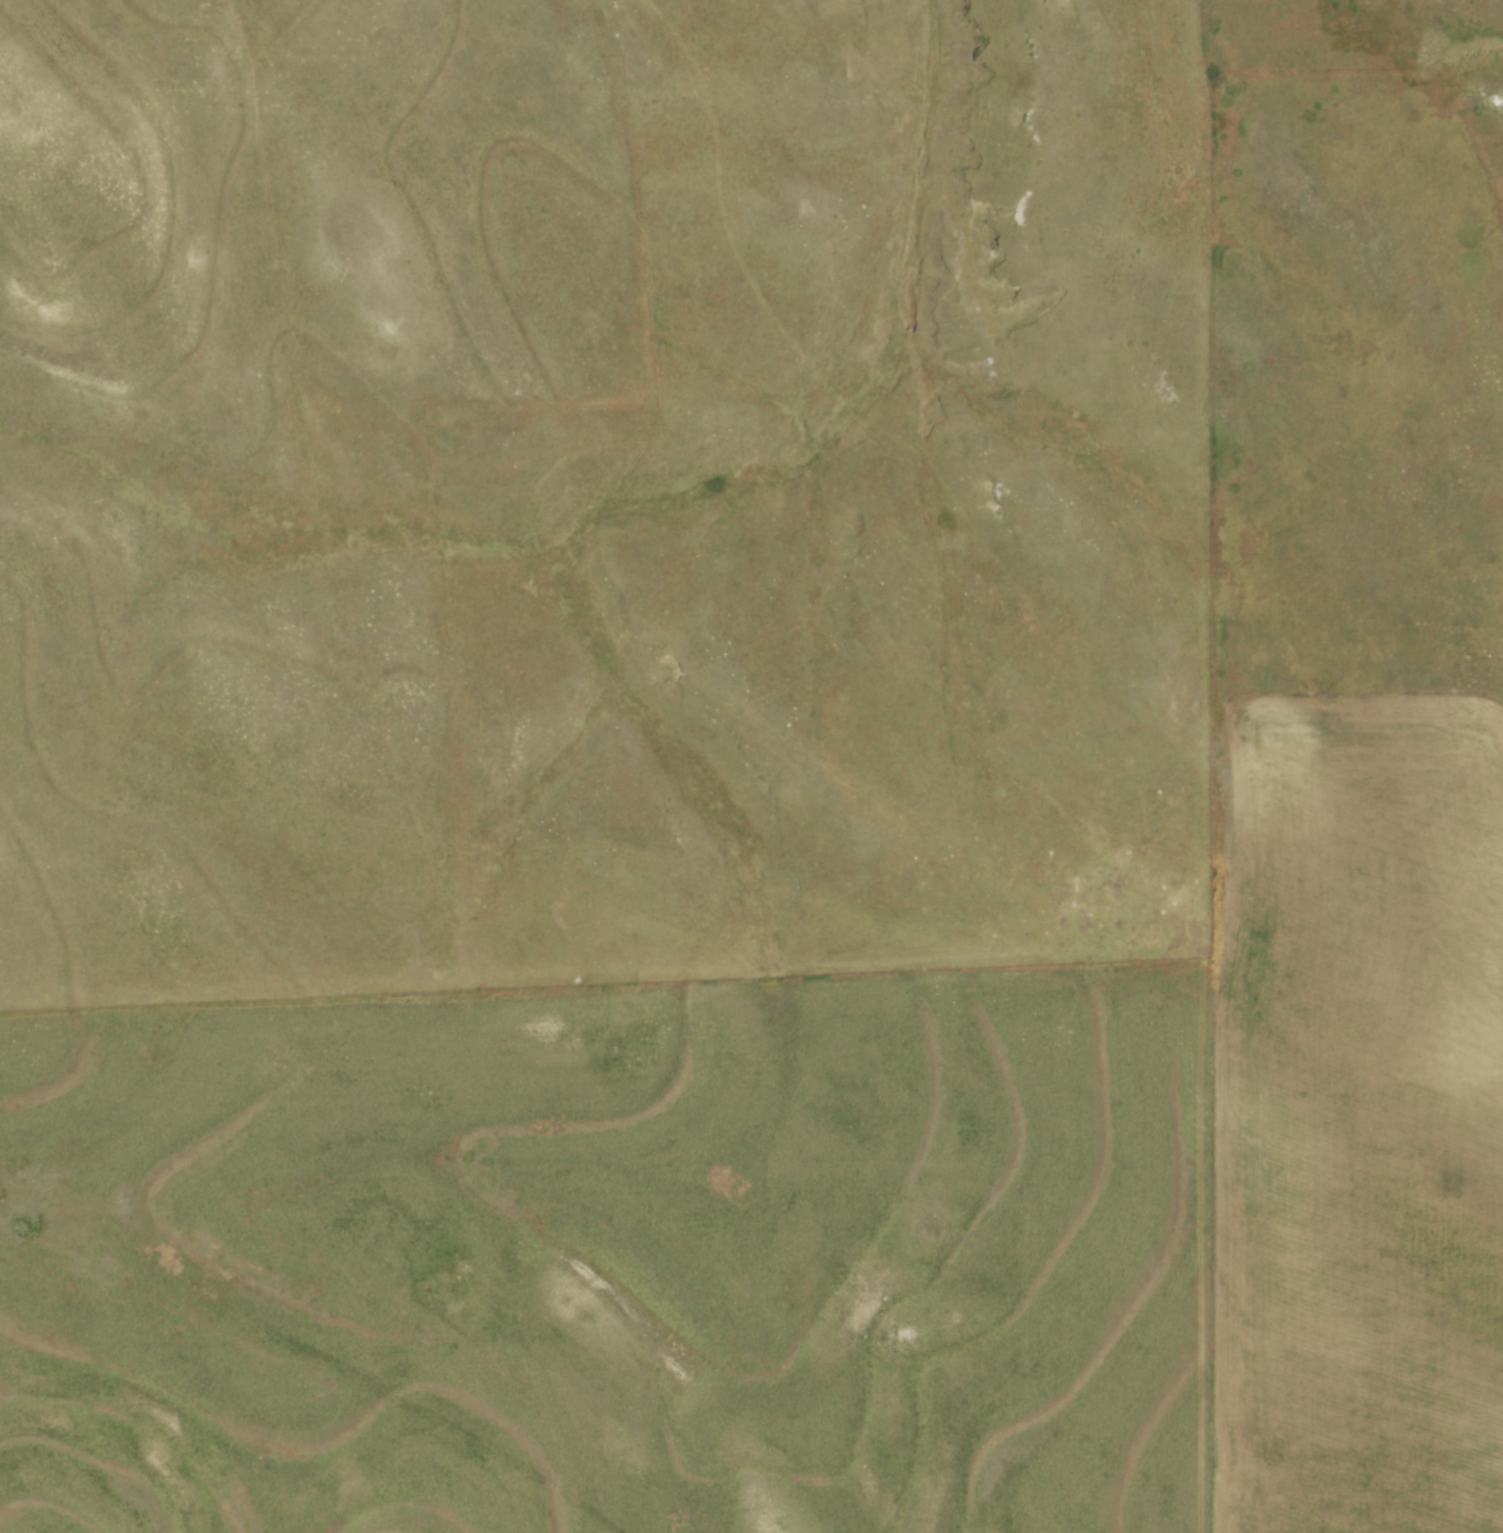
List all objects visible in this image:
crop: (1359, 1121)

